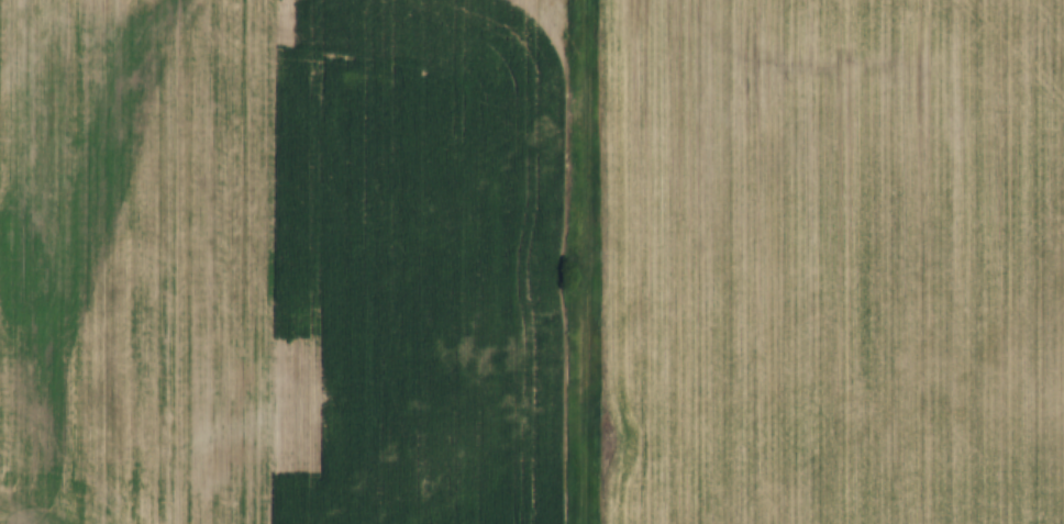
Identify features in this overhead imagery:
road: (594, 261)

